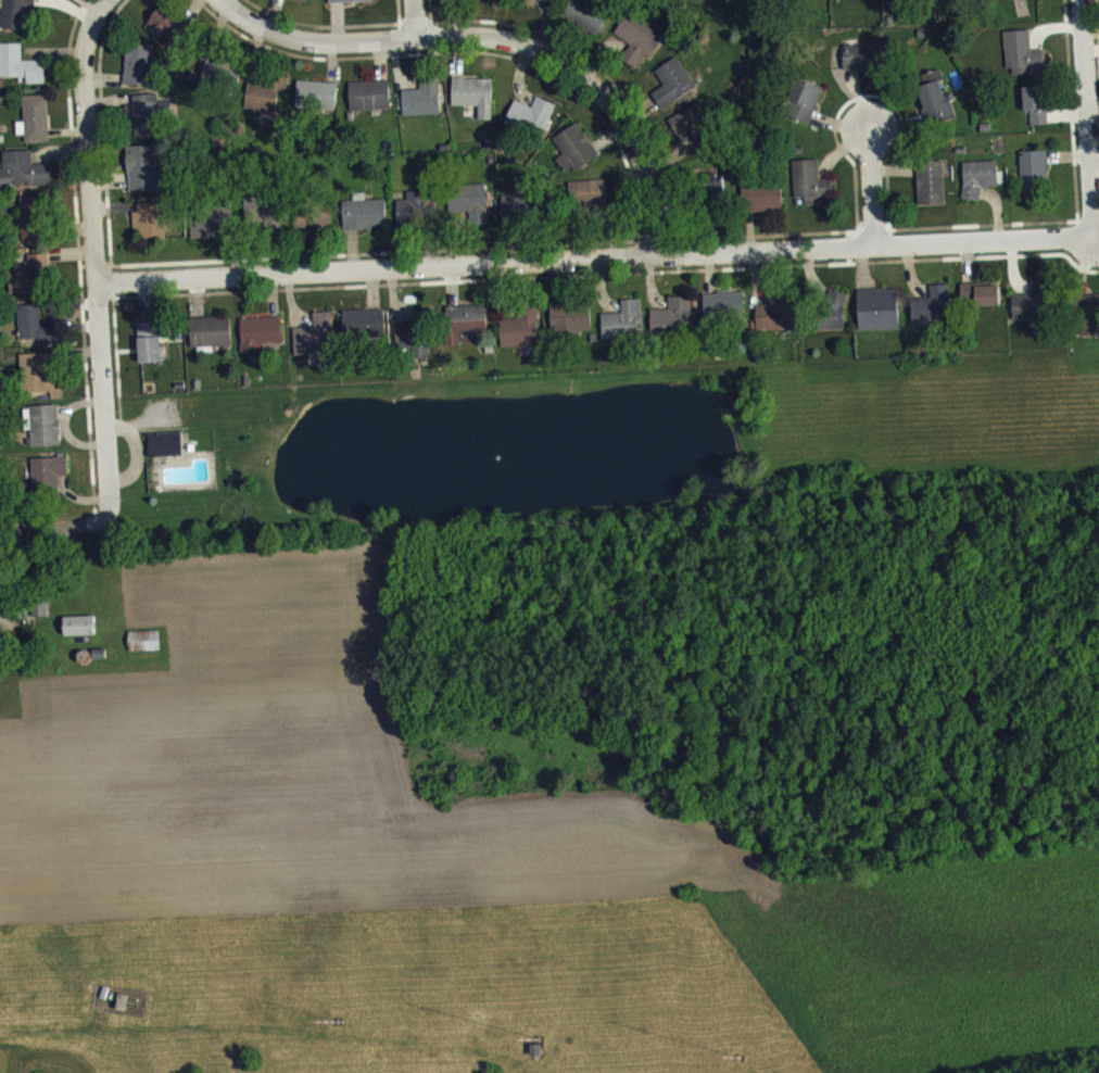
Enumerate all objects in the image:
building: (952, 0)
building: (485, 1)
building: (1009, 1)
building: (301, 2)
building: (544, 3)
building: (352, 4)
building: (17, 16)
road: (417, 20)
building: (586, 22)
building: (169, 33)
building: (636, 48)
road: (505, 52)
building: (1022, 61)
building: (862, 65)
building: (21, 72)
building: (140, 72)
building: (220, 81)
building: (672, 91)
building: (319, 101)
building: (371, 102)
building: (476, 102)
building: (263, 104)
building: (935, 104)
building: (425, 108)
building: (805, 108)
building: (1036, 111)
road: (1090, 118)
building: (149, 121)
building: (533, 122)
building: (37, 126)
building: (689, 126)
building: (577, 154)
building: (146, 174)
building: (1034, 176)
building: (24, 177)
building: (981, 185)
building: (811, 189)
building: (931, 189)
road: (872, 192)
building: (717, 193)
building: (763, 205)
building: (470, 209)
building: (515, 213)
building: (415, 215)
building: (365, 219)
building: (33, 226)
building: (211, 226)
building: (150, 231)
road: (98, 260)
road: (599, 265)
building: (34, 282)
building: (981, 302)
building: (1034, 308)
building: (723, 312)
building: (932, 314)
building: (879, 316)
building: (834, 317)
building: (1089, 320)
building: (773, 321)
building: (673, 324)
building: (571, 325)
building: (468, 327)
building: (623, 328)
building: (367, 331)
building: (37, 332)
building: (521, 334)
building: (212, 339)
building: (261, 339)
building: (316, 343)
building: (412, 346)
building: (150, 350)
building: (46, 432)
building: (166, 451)
building: (50, 480)
road: (55, 528)
road: (3, 624)
building: (80, 632)
building: (144, 648)

